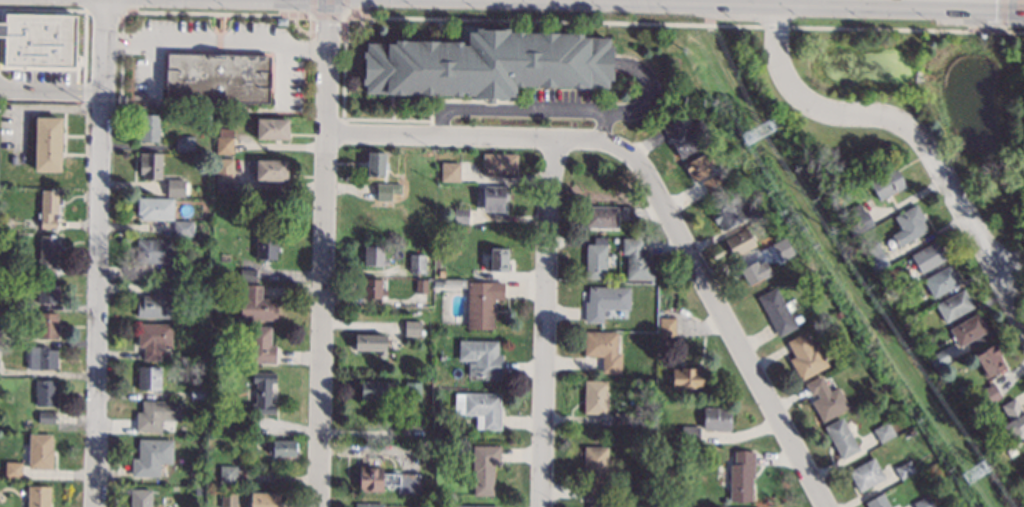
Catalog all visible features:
road: (1021, 9)
road: (42, 10)
road: (736, 11)
road: (103, 12)
road: (216, 14)
road: (329, 16)
road: (1003, 16)
traffic signals: (1021, 19)
building: (281, 21)
road: (554, 21)
traffic signals: (327, 23)
road: (775, 26)
road: (905, 30)
building: (981, 35)
building: (39, 40)
road: (215, 43)
building: (485, 64)
building: (217, 78)
road: (525, 107)
road: (46, 109)
building: (148, 128)
building: (272, 129)
road: (914, 136)
road: (483, 137)
building: (687, 137)
building: (223, 141)
building: (47, 144)
building: (186, 144)
building: (203, 148)
power tower: (760, 154)
building: (13, 159)
building: (375, 164)
building: (499, 165)
building: (150, 166)
building: (698, 166)
building: (271, 170)
building: (450, 172)
building: (223, 174)
building: (715, 183)
building: (887, 184)
building: (176, 188)
building: (387, 191)
building: (745, 193)
building: (494, 198)
building: (49, 208)
building: (154, 209)
building: (762, 209)
building: (729, 212)
building: (626, 213)
building: (460, 216)
building: (601, 217)
building: (860, 218)
building: (1, 224)
building: (909, 225)
building: (183, 228)
building: (609, 240)
building: (615, 240)
building: (740, 242)
building: (266, 247)
building: (781, 250)
building: (154, 251)
building: (48, 253)
road: (99, 253)
road: (323, 253)
building: (374, 256)
building: (876, 257)
building: (928, 257)
building: (498, 259)
building: (595, 259)
building: (637, 260)
building: (416, 264)
building: (168, 271)
building: (441, 272)
building: (755, 272)
building: (248, 275)
building: (941, 281)
building: (452, 283)
building: (820, 285)
building: (421, 286)
building: (373, 289)
building: (44, 291)
building: (604, 302)
building: (21, 303)
building: (157, 303)
building: (482, 303)
building: (256, 305)
building: (954, 305)
building: (776, 312)
building: (839, 315)
building: (901, 316)
road: (554, 323)
building: (905, 323)
building: (46, 326)
building: (666, 327)
building: (413, 328)
building: (968, 330)
road: (733, 332)
building: (153, 339)
building: (371, 343)
building: (260, 345)
building: (604, 350)
building: (805, 356)
building: (40, 357)
building: (482, 359)
building: (938, 359)
building: (990, 361)
building: (149, 378)
building: (688, 379)
building: (376, 389)
building: (413, 391)
building: (44, 393)
building: (262, 393)
building: (991, 393)
building: (197, 394)
building: (594, 397)
building: (826, 399)
building: (986, 401)
building: (479, 408)
building: (156, 414)
building: (46, 417)
building: (622, 418)
building: (717, 418)
building: (1012, 421)
building: (883, 432)
building: (690, 436)
building: (841, 438)
building: (281, 448)
building: (39, 451)
building: (151, 457)
building: (484, 468)
building: (905, 469)
building: (13, 470)
building: (593, 472)
building: (227, 474)
building: (865, 474)
building: (741, 476)
building: (387, 480)
building: (953, 488)
power tower: (971, 493)
building: (38, 496)
building: (140, 498)
building: (264, 499)
building: (228, 500)
building: (877, 501)
building: (923, 502)
building: (368, 505)
building: (598, 505)
building: (469, 506)

